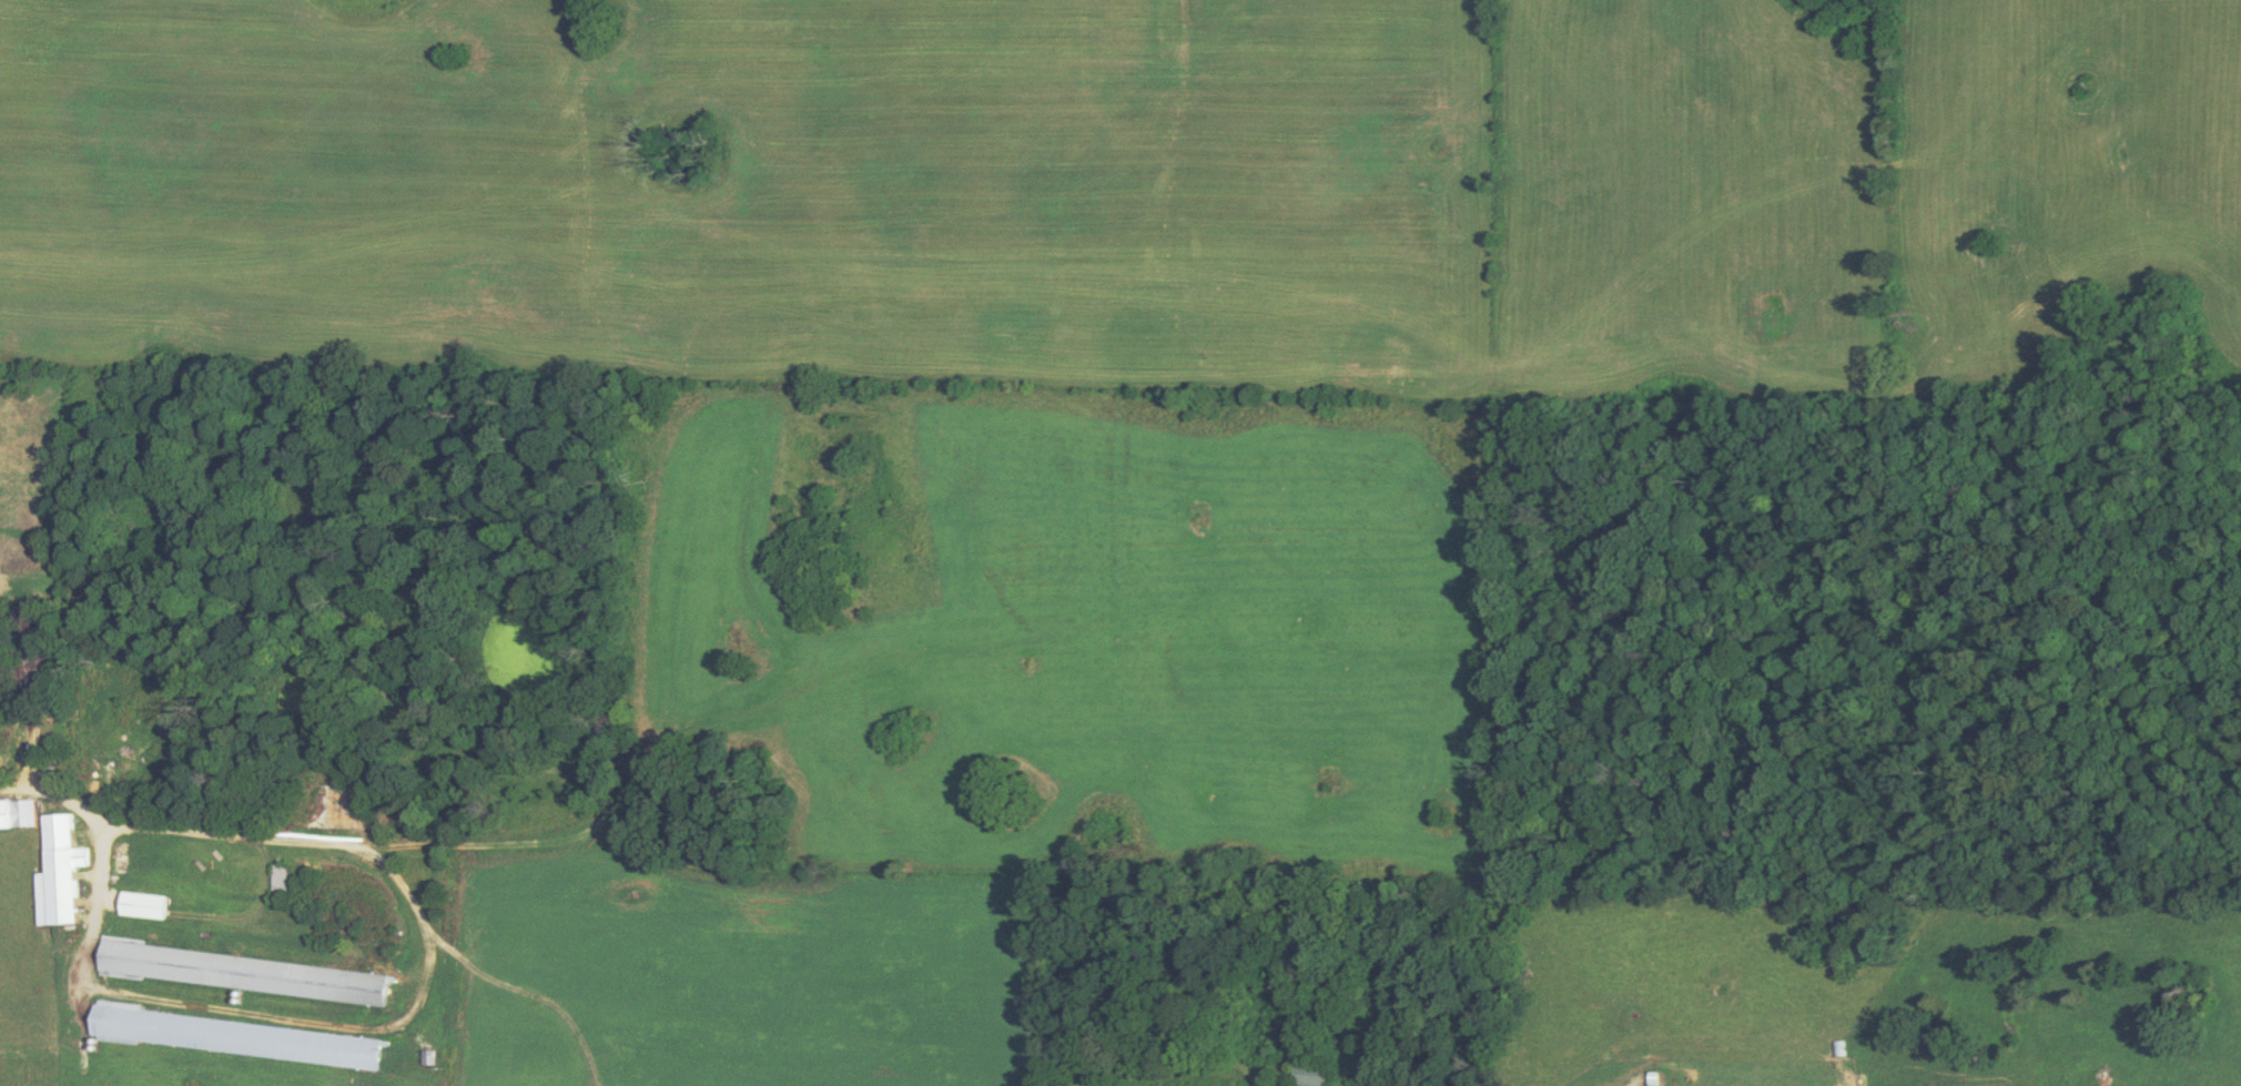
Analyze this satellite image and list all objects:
building: (31, 622)
building: (2, 740)
building: (27, 813)
building: (124, 855)
building: (64, 886)
building: (247, 973)
building: (240, 1036)
building: (432, 1058)
building: (1320, 1074)

